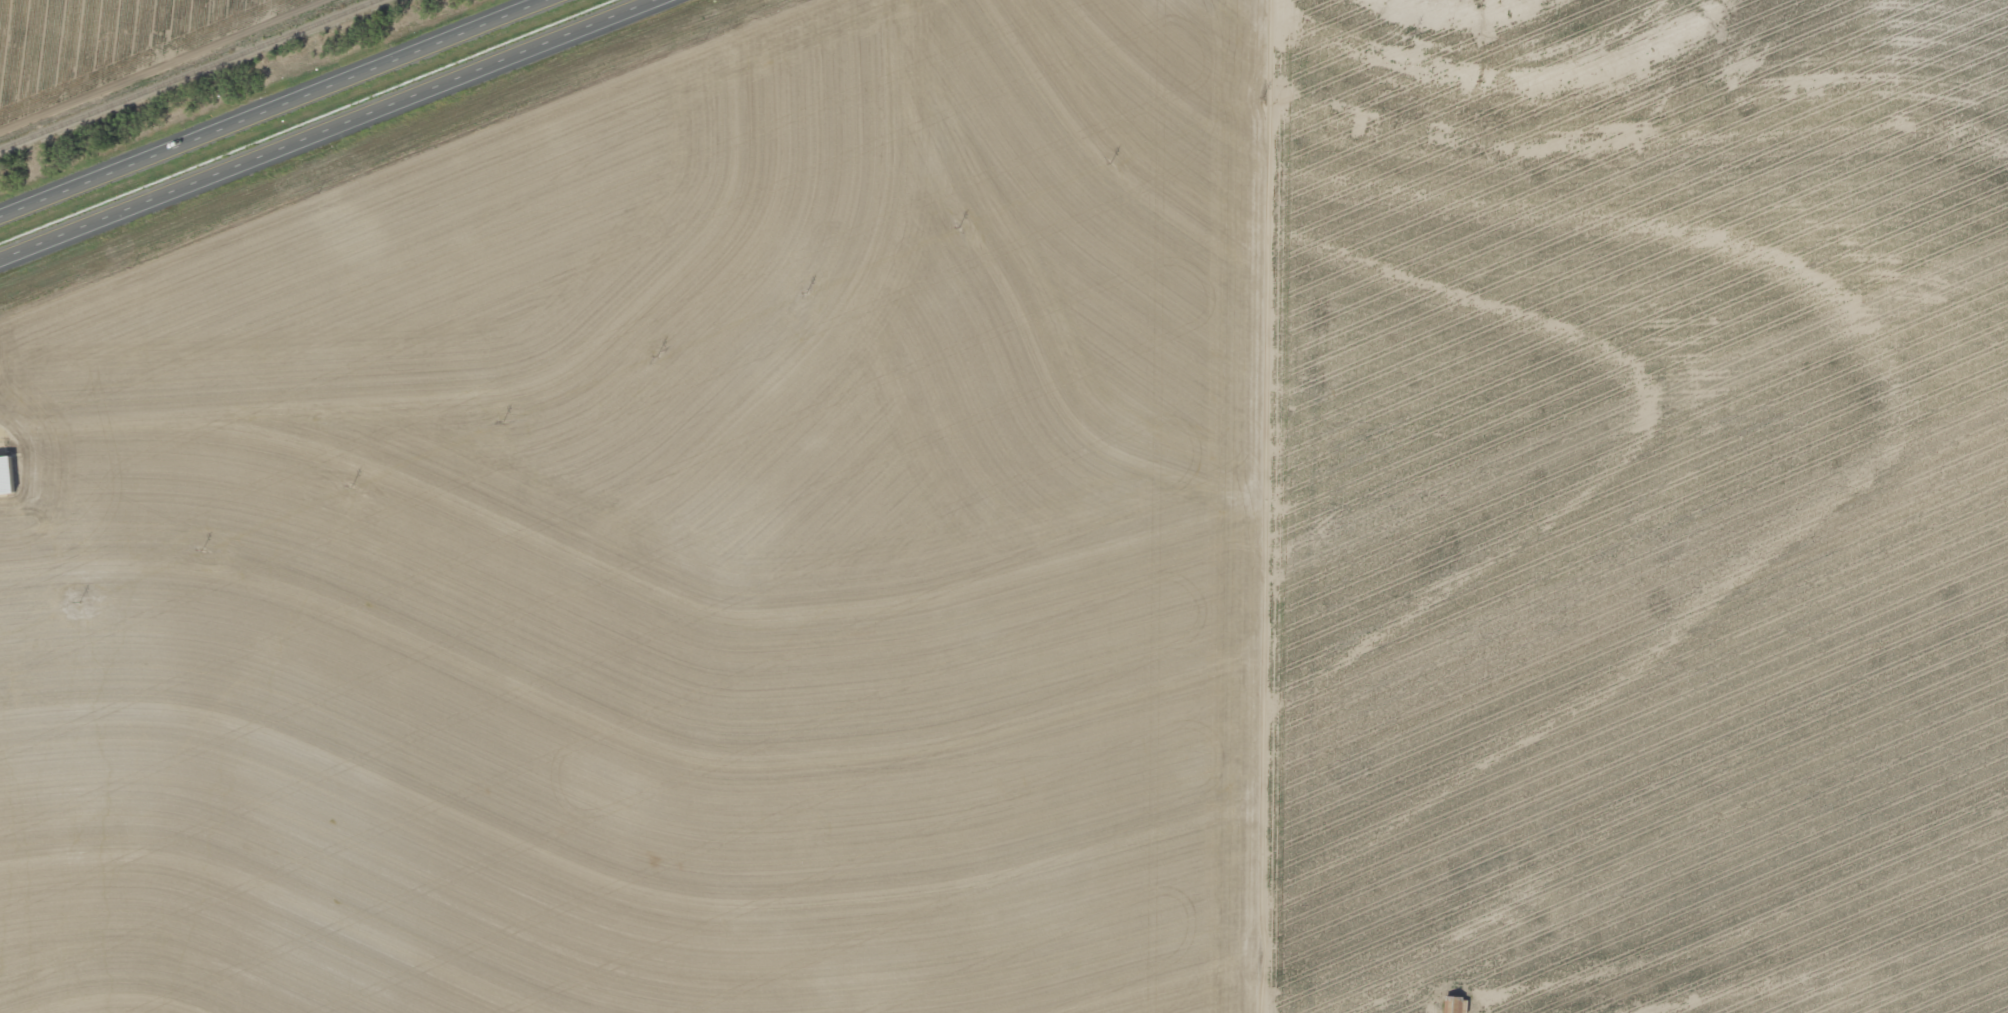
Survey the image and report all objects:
road: (952, 71)
railway: (188, 74)
road: (275, 111)
road: (329, 131)
road: (381, 284)
building: (6, 475)
road: (1300, 506)

